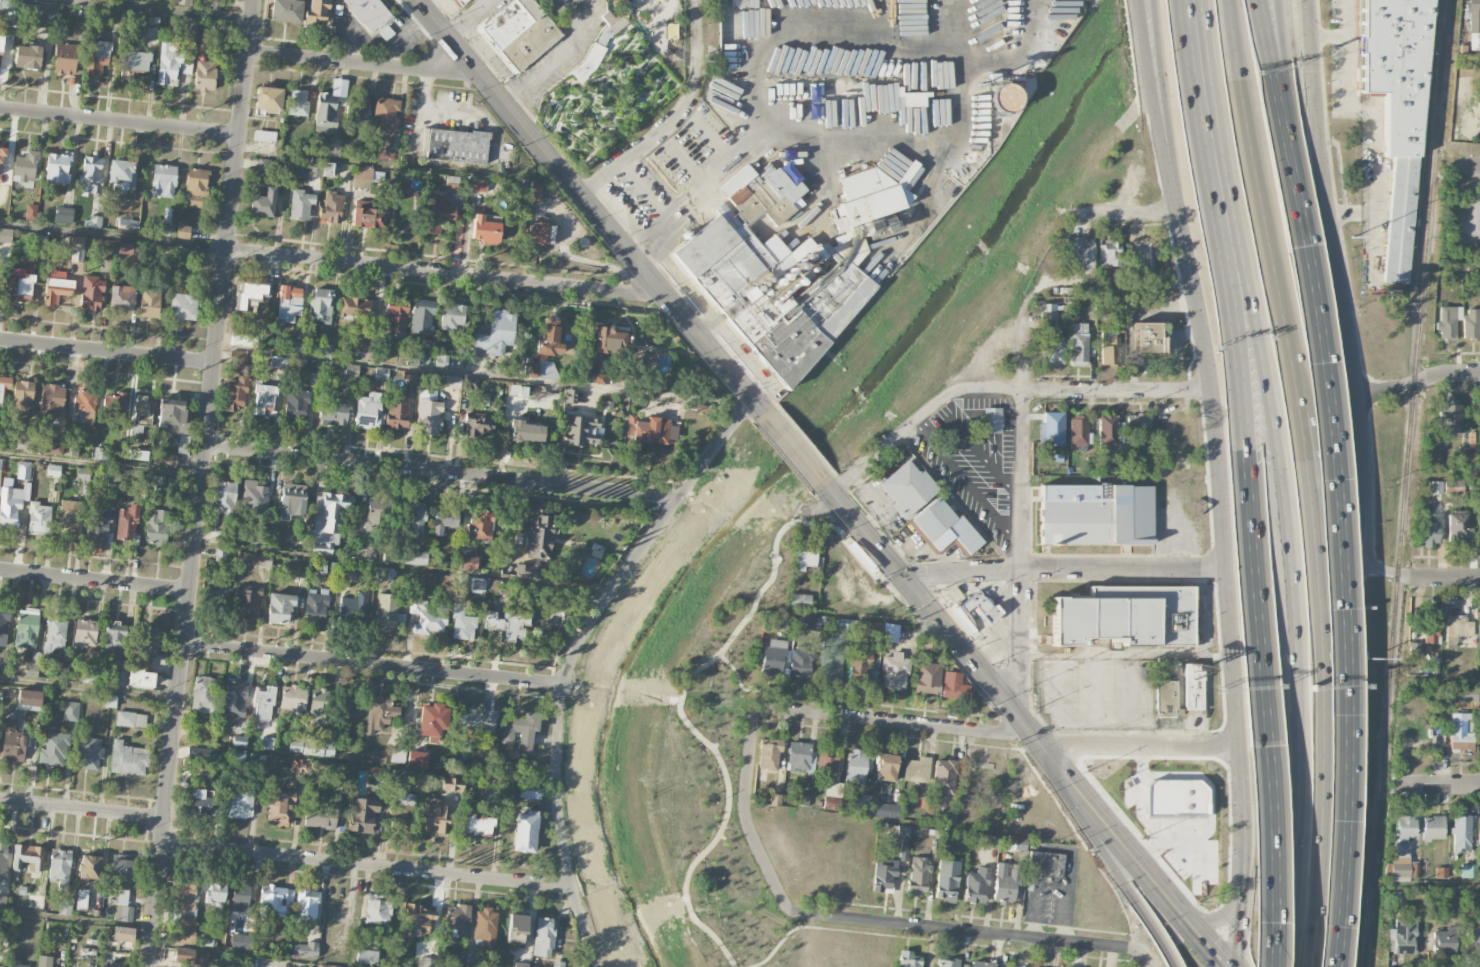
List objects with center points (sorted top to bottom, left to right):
building: (183, 2)
building: (459, 2)
building: (6, 4)
building: (211, 4)
road: (165, 9)
building: (286, 11)
building: (315, 12)
building: (368, 13)
building: (41, 14)
road: (569, 14)
building: (1472, 14)
road: (468, 18)
building: (189, 24)
building: (521, 32)
building: (667, 32)
building: (385, 33)
road: (1348, 36)
building: (1, 44)
building: (600, 47)
building: (28, 57)
building: (65, 58)
building: (98, 58)
road: (559, 59)
building: (136, 61)
building: (168, 64)
road: (360, 65)
road: (1155, 66)
road: (1160, 66)
building: (204, 75)
building: (1004, 97)
building: (268, 99)
park: (599, 99)
building: (296, 103)
road: (1280, 110)
road: (1290, 110)
building: (360, 111)
building: (326, 113)
building: (1396, 114)
building: (386, 115)
road: (675, 117)
road: (120, 122)
building: (265, 137)
building: (457, 146)
building: (334, 149)
building: (0, 152)
building: (383, 156)
building: (392, 157)
building: (267, 165)
road: (1465, 167)
building: (57, 168)
building: (26, 169)
building: (92, 169)
road: (404, 169)
building: (120, 175)
building: (163, 181)
building: (477, 186)
building: (195, 187)
road: (1264, 190)
building: (533, 193)
building: (764, 196)
building: (871, 196)
building: (263, 204)
building: (300, 204)
road: (589, 205)
building: (332, 209)
building: (31, 212)
building: (437, 214)
road: (1130, 214)
building: (63, 215)
building: (368, 218)
building: (92, 222)
building: (127, 225)
building: (484, 230)
building: (182, 232)
building: (540, 233)
road: (1304, 233)
building: (5, 235)
road: (114, 237)
building: (164, 251)
building: (1079, 253)
building: (1111, 253)
building: (1144, 254)
building: (181, 255)
building: (727, 259)
road: (1457, 266)
building: (0, 267)
road: (445, 273)
building: (1454, 278)
road: (1337, 281)
building: (20, 286)
building: (1156, 287)
building: (57, 290)
building: (91, 295)
building: (251, 295)
building: (121, 297)
building: (149, 303)
building: (289, 303)
building: (320, 305)
building: (182, 307)
building: (357, 307)
building: (1047, 312)
building: (451, 316)
building: (396, 318)
building: (422, 318)
building: (1447, 322)
building: (803, 323)
building: (1471, 324)
building: (496, 333)
building: (1147, 338)
building: (243, 340)
building: (608, 340)
building: (1078, 344)
building: (1109, 348)
building: (546, 349)
building: (1052, 351)
road: (107, 352)
building: (239, 358)
building: (441, 360)
building: (274, 361)
building: (312, 366)
building: (351, 370)
building: (381, 373)
road: (1242, 373)
road: (484, 375)
building: (594, 378)
road: (1416, 380)
building: (450, 382)
building: (473, 383)
building: (5, 385)
road: (1003, 390)
building: (235, 391)
building: (665, 396)
building: (22, 399)
building: (52, 399)
building: (263, 399)
building: (84, 401)
building: (115, 405)
building: (296, 405)
building: (144, 411)
building: (368, 411)
building: (334, 412)
building: (397, 412)
building: (172, 416)
building: (429, 416)
building: (88, 418)
building: (1449, 418)
building: (992, 421)
building: (478, 424)
building: (1137, 424)
building: (1051, 430)
building: (1078, 430)
building: (1106, 430)
building: (580, 431)
building: (652, 431)
building: (526, 432)
road: (1216, 438)
building: (1472, 440)
building: (24, 441)
building: (183, 444)
road: (790, 445)
building: (53, 448)
building: (71, 450)
building: (100, 454)
building: (164, 459)
building: (0, 464)
road: (101, 465)
building: (24, 470)
building: (53, 470)
building: (83, 473)
road: (441, 473)
road: (1449, 474)
building: (111, 477)
road: (1281, 480)
road: (201, 483)
railway: (1404, 483)
building: (162, 484)
building: (1453, 486)
building: (908, 487)
building: (1435, 488)
building: (223, 498)
building: (254, 500)
building: (292, 500)
building: (11, 503)
road: (1022, 506)
building: (374, 515)
building: (1095, 515)
building: (329, 516)
building: (69, 517)
building: (39, 518)
building: (414, 518)
building: (444, 518)
building: (127, 523)
building: (97, 525)
building: (479, 525)
building: (945, 526)
building: (156, 527)
building: (1458, 528)
building: (1429, 534)
building: (538, 536)
road: (1335, 540)
building: (322, 549)
building: (220, 556)
building: (416, 557)
building: (254, 559)
building: (804, 559)
building: (466, 563)
road: (403, 567)
building: (525, 570)
road: (1067, 571)
building: (384, 573)
road: (1419, 576)
road: (94, 581)
building: (473, 586)
traffic signals: (912, 588)
building: (216, 594)
building: (799, 600)
building: (247, 602)
building: (977, 606)
road: (1342, 606)
building: (354, 607)
building: (279, 608)
building: (316, 610)
building: (388, 613)
building: (1126, 617)
building: (425, 618)
building: (810, 621)
road: (941, 622)
building: (461, 624)
building: (507, 624)
building: (966, 625)
building: (1431, 627)
building: (3, 628)
building: (1479, 628)
building: (26, 629)
building: (873, 630)
building: (1456, 630)
building: (55, 632)
road: (1358, 632)
building: (85, 633)
building: (890, 633)
building: (114, 636)
building: (145, 640)
building: (1414, 650)
road: (1127, 655)
road: (571, 658)
building: (772, 658)
building: (831, 660)
building: (799, 664)
road: (374, 665)
building: (862, 667)
building: (894, 670)
building: (31, 671)
building: (59, 671)
road: (1325, 674)
building: (927, 678)
building: (140, 679)
road: (686, 680)
road: (739, 681)
road: (1442, 681)
building: (954, 686)
road: (89, 687)
building: (1193, 692)
building: (203, 694)
parking lot: (1097, 694)
building: (1166, 696)
building: (1464, 696)
building: (29, 698)
building: (293, 699)
building: (232, 700)
building: (263, 702)
building: (321, 708)
building: (71, 711)
building: (379, 713)
building: (130, 719)
building: (476, 720)
building: (432, 721)
road: (892, 721)
building: (521, 730)
building: (1459, 734)
building: (1479, 736)
building: (12, 743)
building: (267, 744)
road: (1147, 746)
building: (53, 748)
building: (322, 749)
building: (89, 753)
building: (201, 753)
building: (768, 753)
building: (380, 756)
building: (797, 756)
building: (237, 757)
building: (127, 759)
building: (416, 759)
building: (826, 761)
road: (364, 764)
building: (885, 766)
building: (298, 767)
building: (856, 769)
building: (339, 770)
building: (915, 771)
building: (403, 776)
building: (943, 777)
building: (451, 784)
road: (1440, 785)
building: (876, 788)
building: (530, 791)
building: (1174, 797)
building: (775, 799)
road: (1243, 799)
building: (805, 801)
building: (858, 801)
building: (201, 802)
building: (832, 803)
building: (818, 804)
building: (239, 805)
road: (82, 810)
building: (281, 810)
building: (884, 810)
road: (1139, 811)
building: (402, 813)
building: (318, 814)
road: (743, 814)
building: (362, 815)
building: (434, 816)
building: (948, 816)
road: (1210, 822)
building: (477, 826)
building: (1433, 828)
building: (526, 832)
building: (1478, 833)
road: (1353, 834)
building: (1461, 834)
road: (1180, 836)
building: (903, 840)
building: (986, 841)
building: (1020, 844)
building: (1402, 852)
building: (28, 857)
road: (1269, 858)
building: (3, 859)
road: (1118, 866)
building: (90, 867)
road: (367, 867)
road: (1145, 867)
building: (60, 868)
building: (1044, 868)
building: (1468, 871)
building: (1441, 872)
building: (883, 875)
building: (918, 876)
building: (1006, 882)
building: (947, 883)
building: (976, 885)
road: (1431, 886)
building: (121, 889)
building: (215, 892)
building: (240, 896)
building: (81, 899)
building: (3, 902)
building: (275, 902)
road: (1230, 902)
building: (306, 905)
building: (64, 907)
building: (377, 909)
road: (1242, 909)
building: (184, 910)
building: (456, 920)
building: (420, 921)
building: (485, 926)
building: (516, 928)
road: (828, 929)
road: (973, 932)
building: (123, 934)
building: (544, 937)
building: (1403, 937)
building: (1475, 939)
building: (205, 940)
building: (240, 941)
building: (1446, 941)
building: (305, 950)
road: (263, 954)
building: (442, 955)
building: (190, 957)
building: (365, 957)
building: (909, 959)
building: (15, 961)
building: (44, 961)
building: (948, 963)
building: (114, 964)
building: (471, 964)
building: (557, 964)
building: (982, 964)
building: (520, 965)
building: (1, 966)

